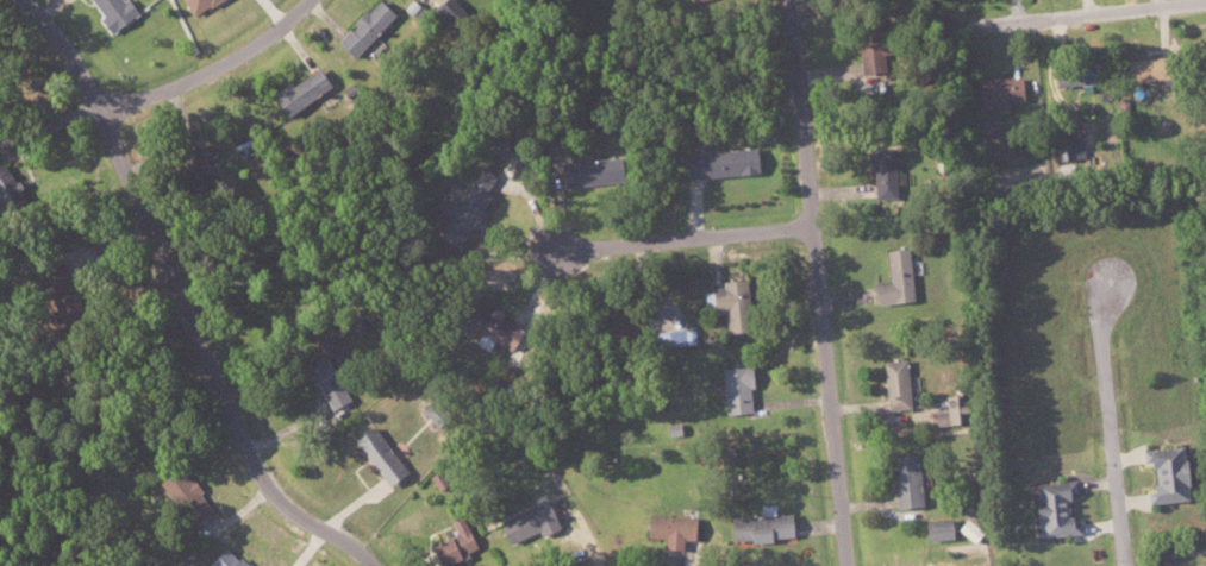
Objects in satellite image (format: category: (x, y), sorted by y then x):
building: (195, 5)
building: (448, 10)
building: (112, 12)
road: (1089, 12)
building: (363, 27)
building: (867, 48)
road: (207, 68)
building: (1141, 68)
building: (1074, 71)
building: (298, 90)
building: (998, 92)
building: (496, 141)
building: (1070, 150)
building: (720, 162)
building: (193, 165)
building: (586, 171)
building: (881, 171)
building: (5, 182)
building: (467, 200)
road: (685, 238)
building: (49, 272)
building: (894, 278)
road: (818, 282)
road: (179, 301)
building: (726, 302)
building: (487, 326)
building: (673, 337)
building: (325, 370)
building: (894, 383)
building: (735, 388)
building: (945, 410)
road: (1108, 424)
building: (377, 454)
building: (1164, 473)
building: (904, 480)
building: (185, 495)
building: (1052, 508)
building: (525, 522)
building: (760, 527)
building: (936, 528)
building: (669, 529)
building: (452, 542)
road: (308, 547)
building: (224, 558)
building: (1194, 565)

